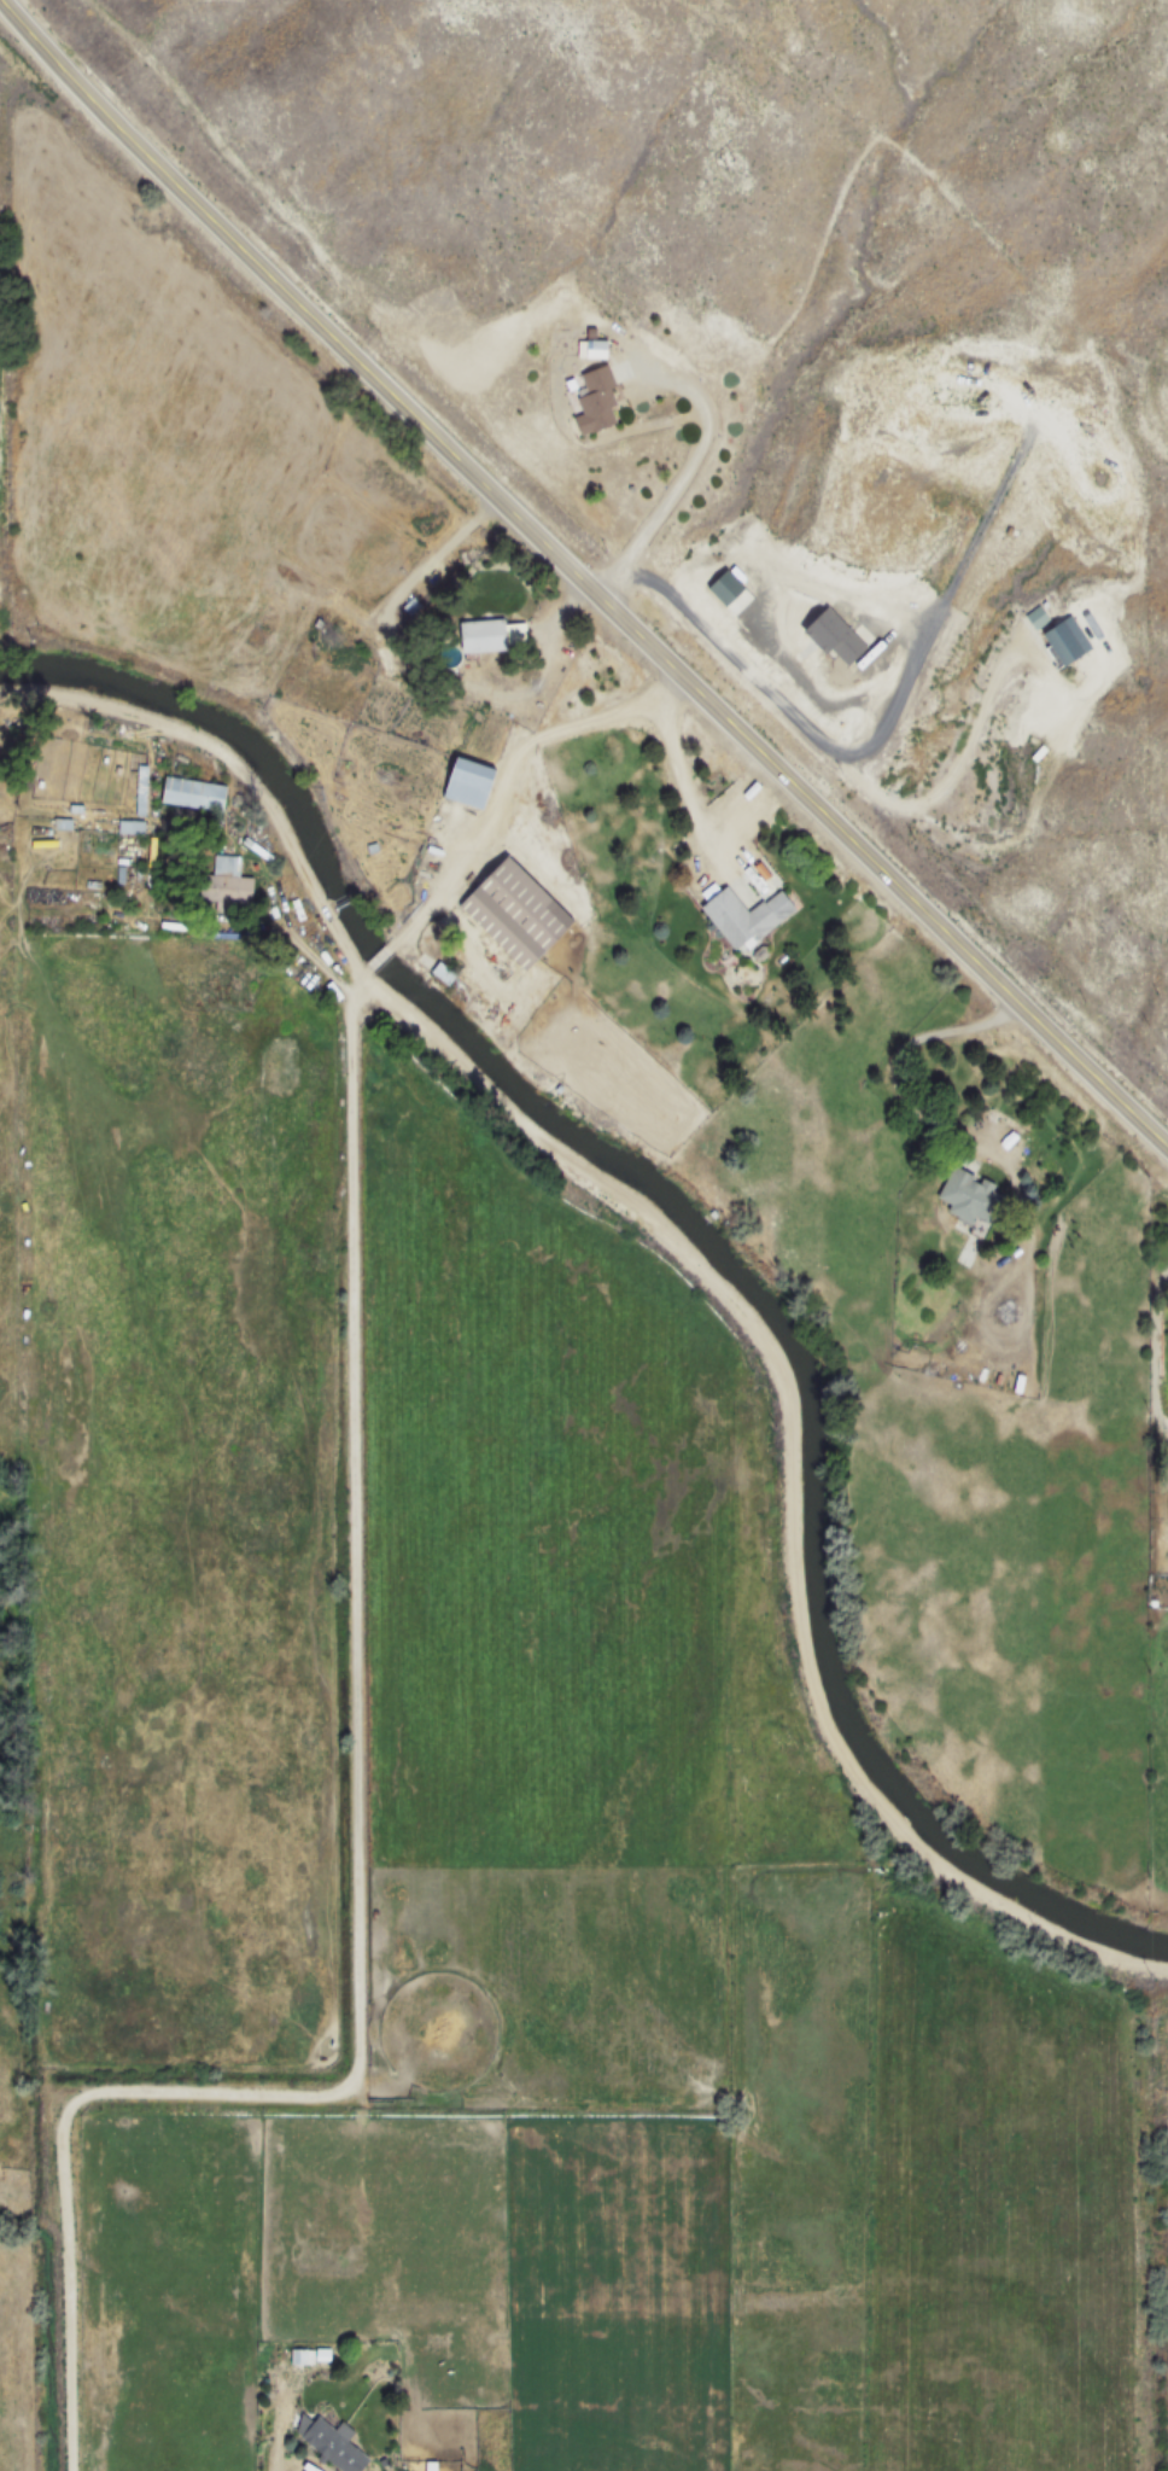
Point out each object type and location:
building: (597, 400)
road: (707, 458)
road: (580, 579)
building: (730, 593)
building: (1036, 617)
building: (483, 635)
building: (1071, 636)
building: (836, 637)
road: (547, 742)
road: (828, 745)
building: (471, 782)
road: (683, 783)
building: (141, 793)
building: (194, 793)
building: (224, 881)
road: (419, 909)
building: (518, 914)
building: (746, 916)
road: (375, 961)
road: (932, 1121)
building: (970, 1196)
road: (693, 1257)
road: (360, 1855)
building: (303, 2355)
building: (333, 2441)

